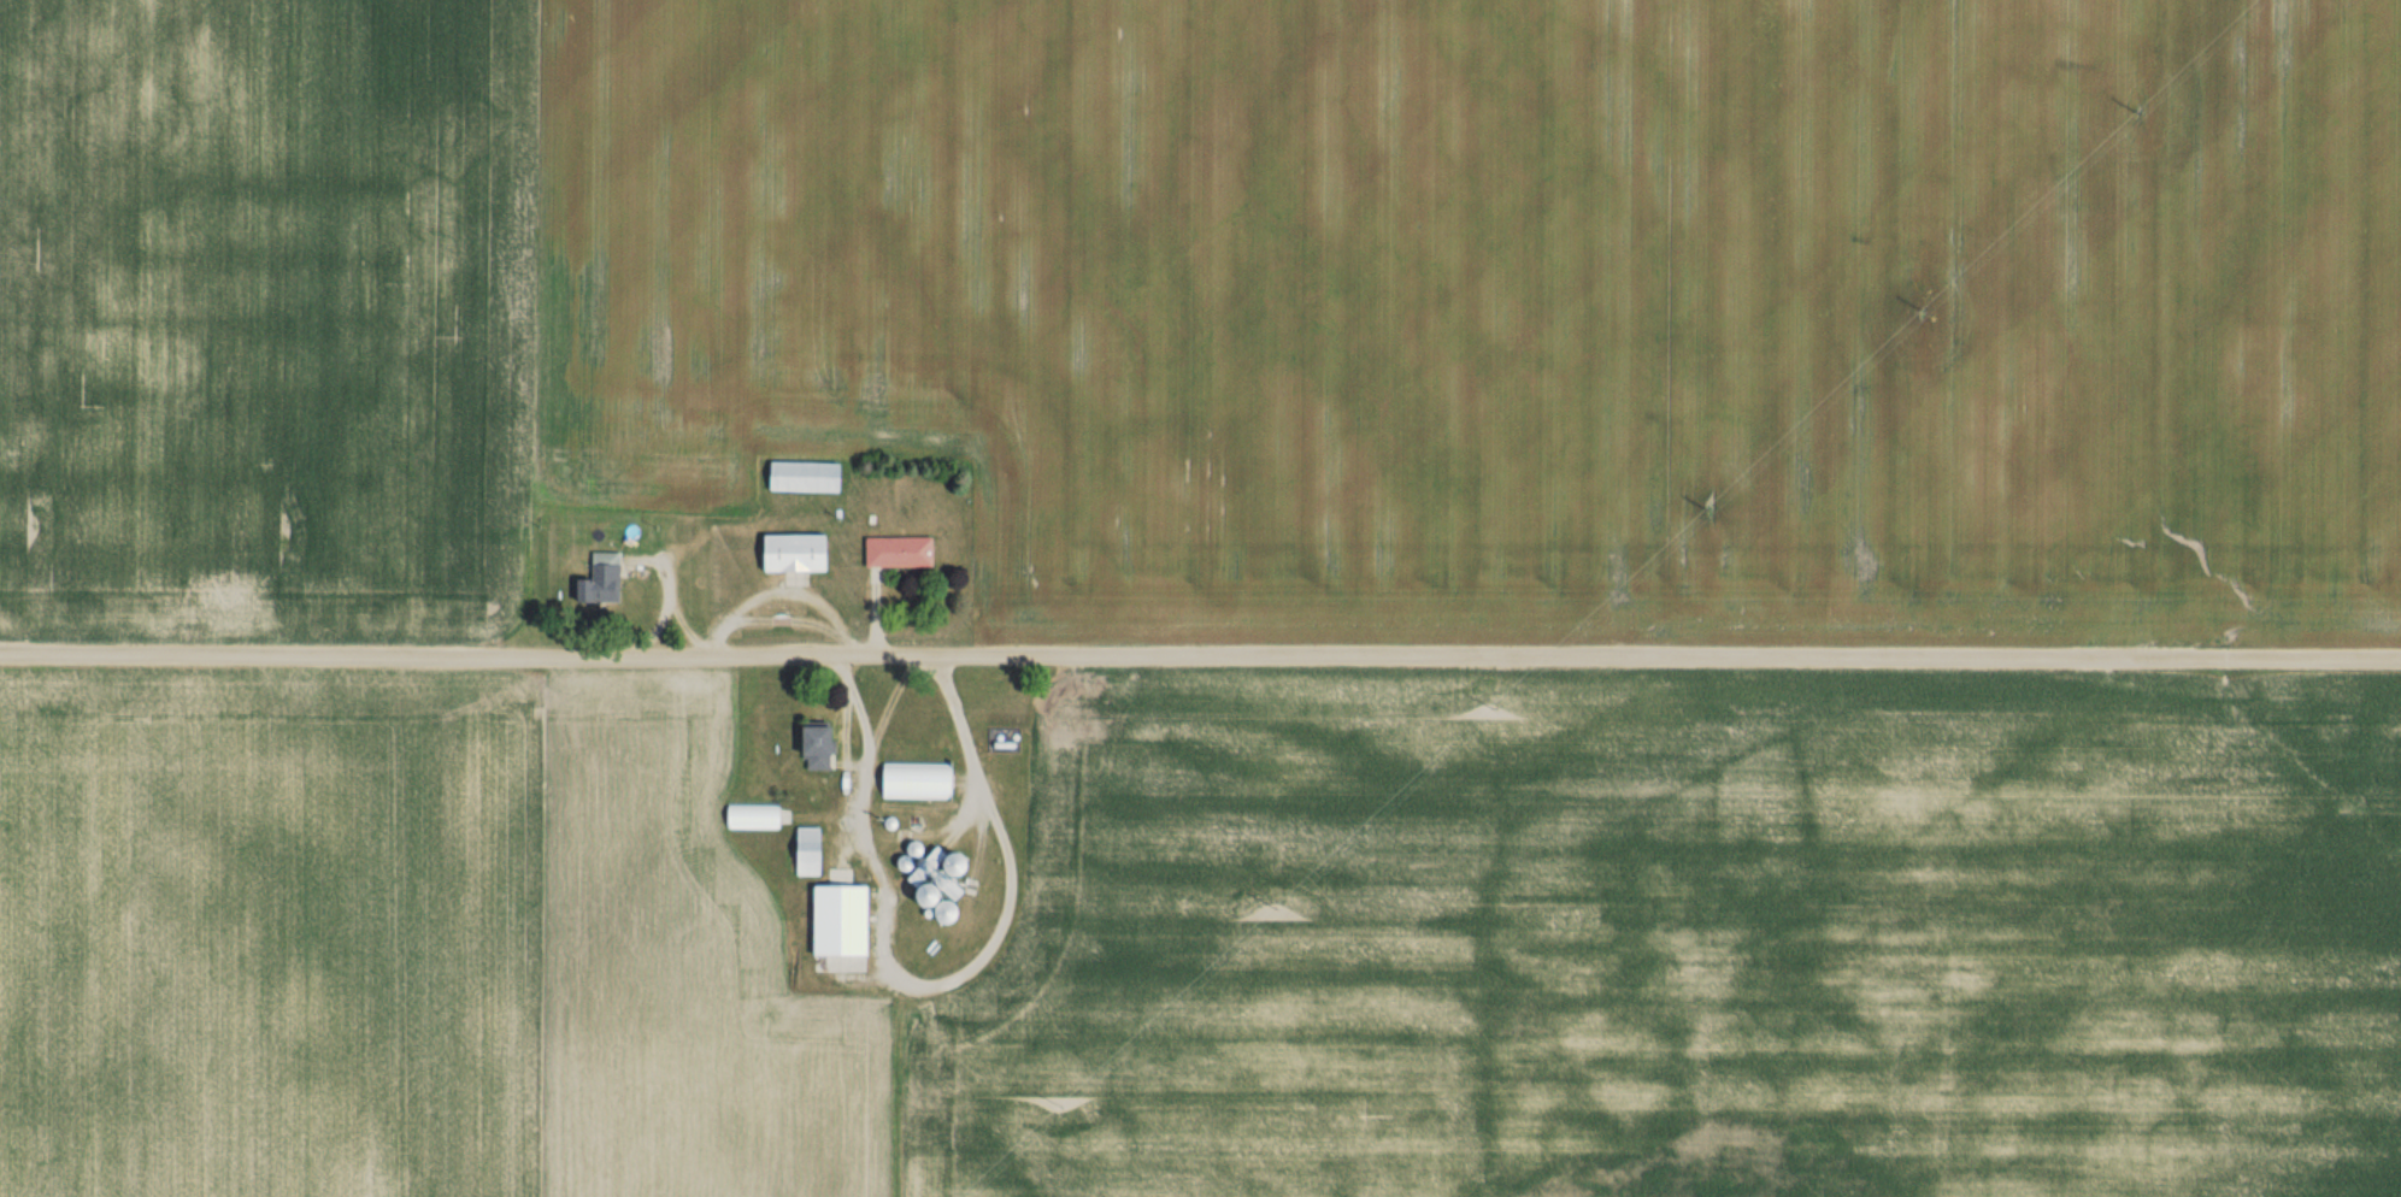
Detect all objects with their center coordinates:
building: (799, 478)
building: (893, 550)
building: (789, 552)
building: (596, 579)
road: (781, 588)
road: (669, 600)
road: (684, 627)
road: (1200, 654)
building: (807, 744)
building: (910, 780)
building: (749, 816)
building: (801, 850)
building: (934, 868)
building: (834, 920)
road: (932, 986)

